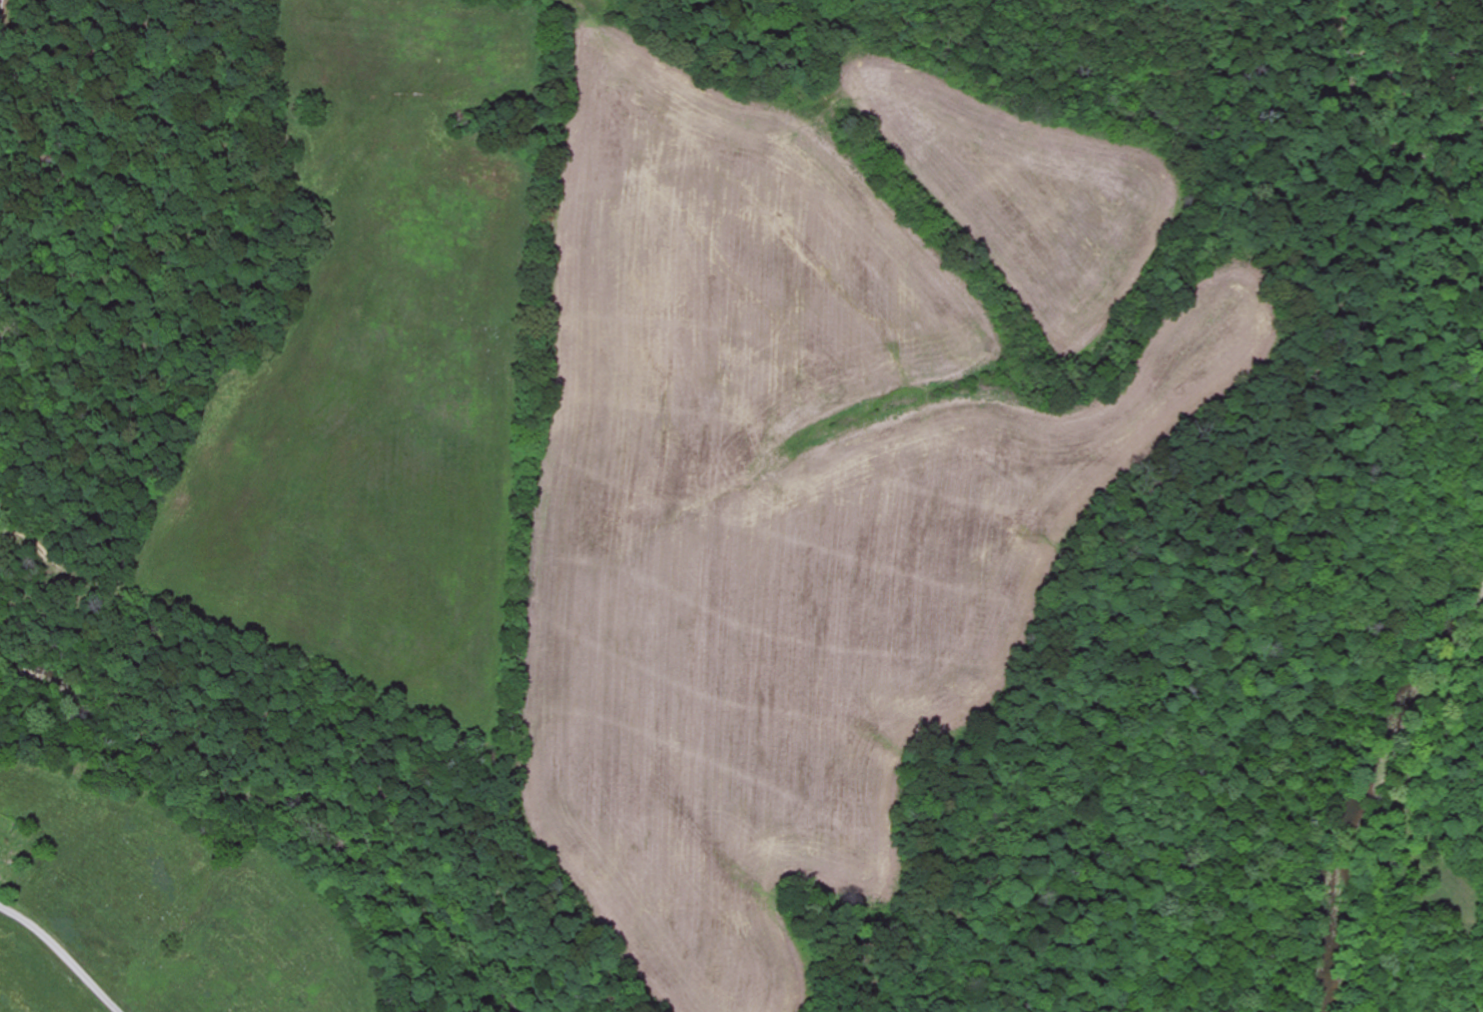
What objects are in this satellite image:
road: (1, 10)
road: (62, 954)

